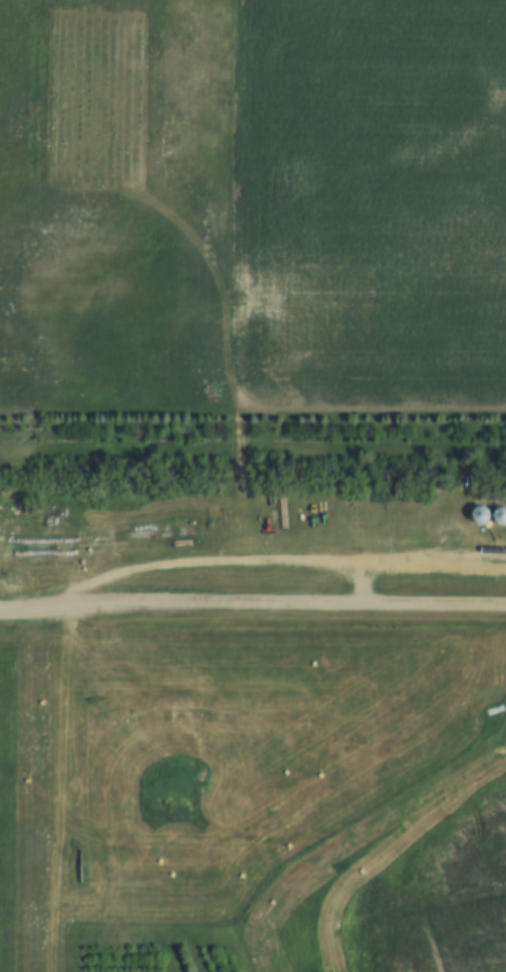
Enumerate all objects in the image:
building: (482, 516)
silo: (482, 516)
building: (501, 517)
silo: (501, 517)
road: (283, 559)
road: (252, 605)
building: (147, 706)
building: (116, 711)

